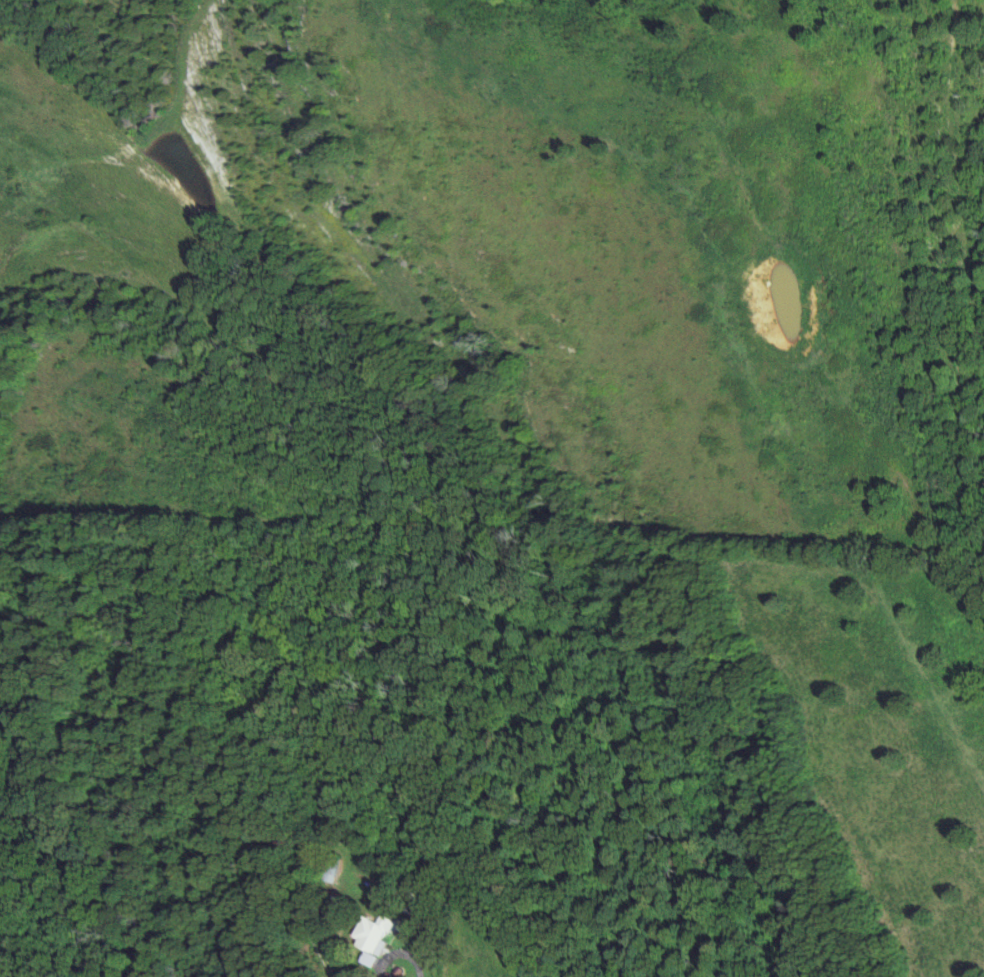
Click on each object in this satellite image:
road: (399, 939)

